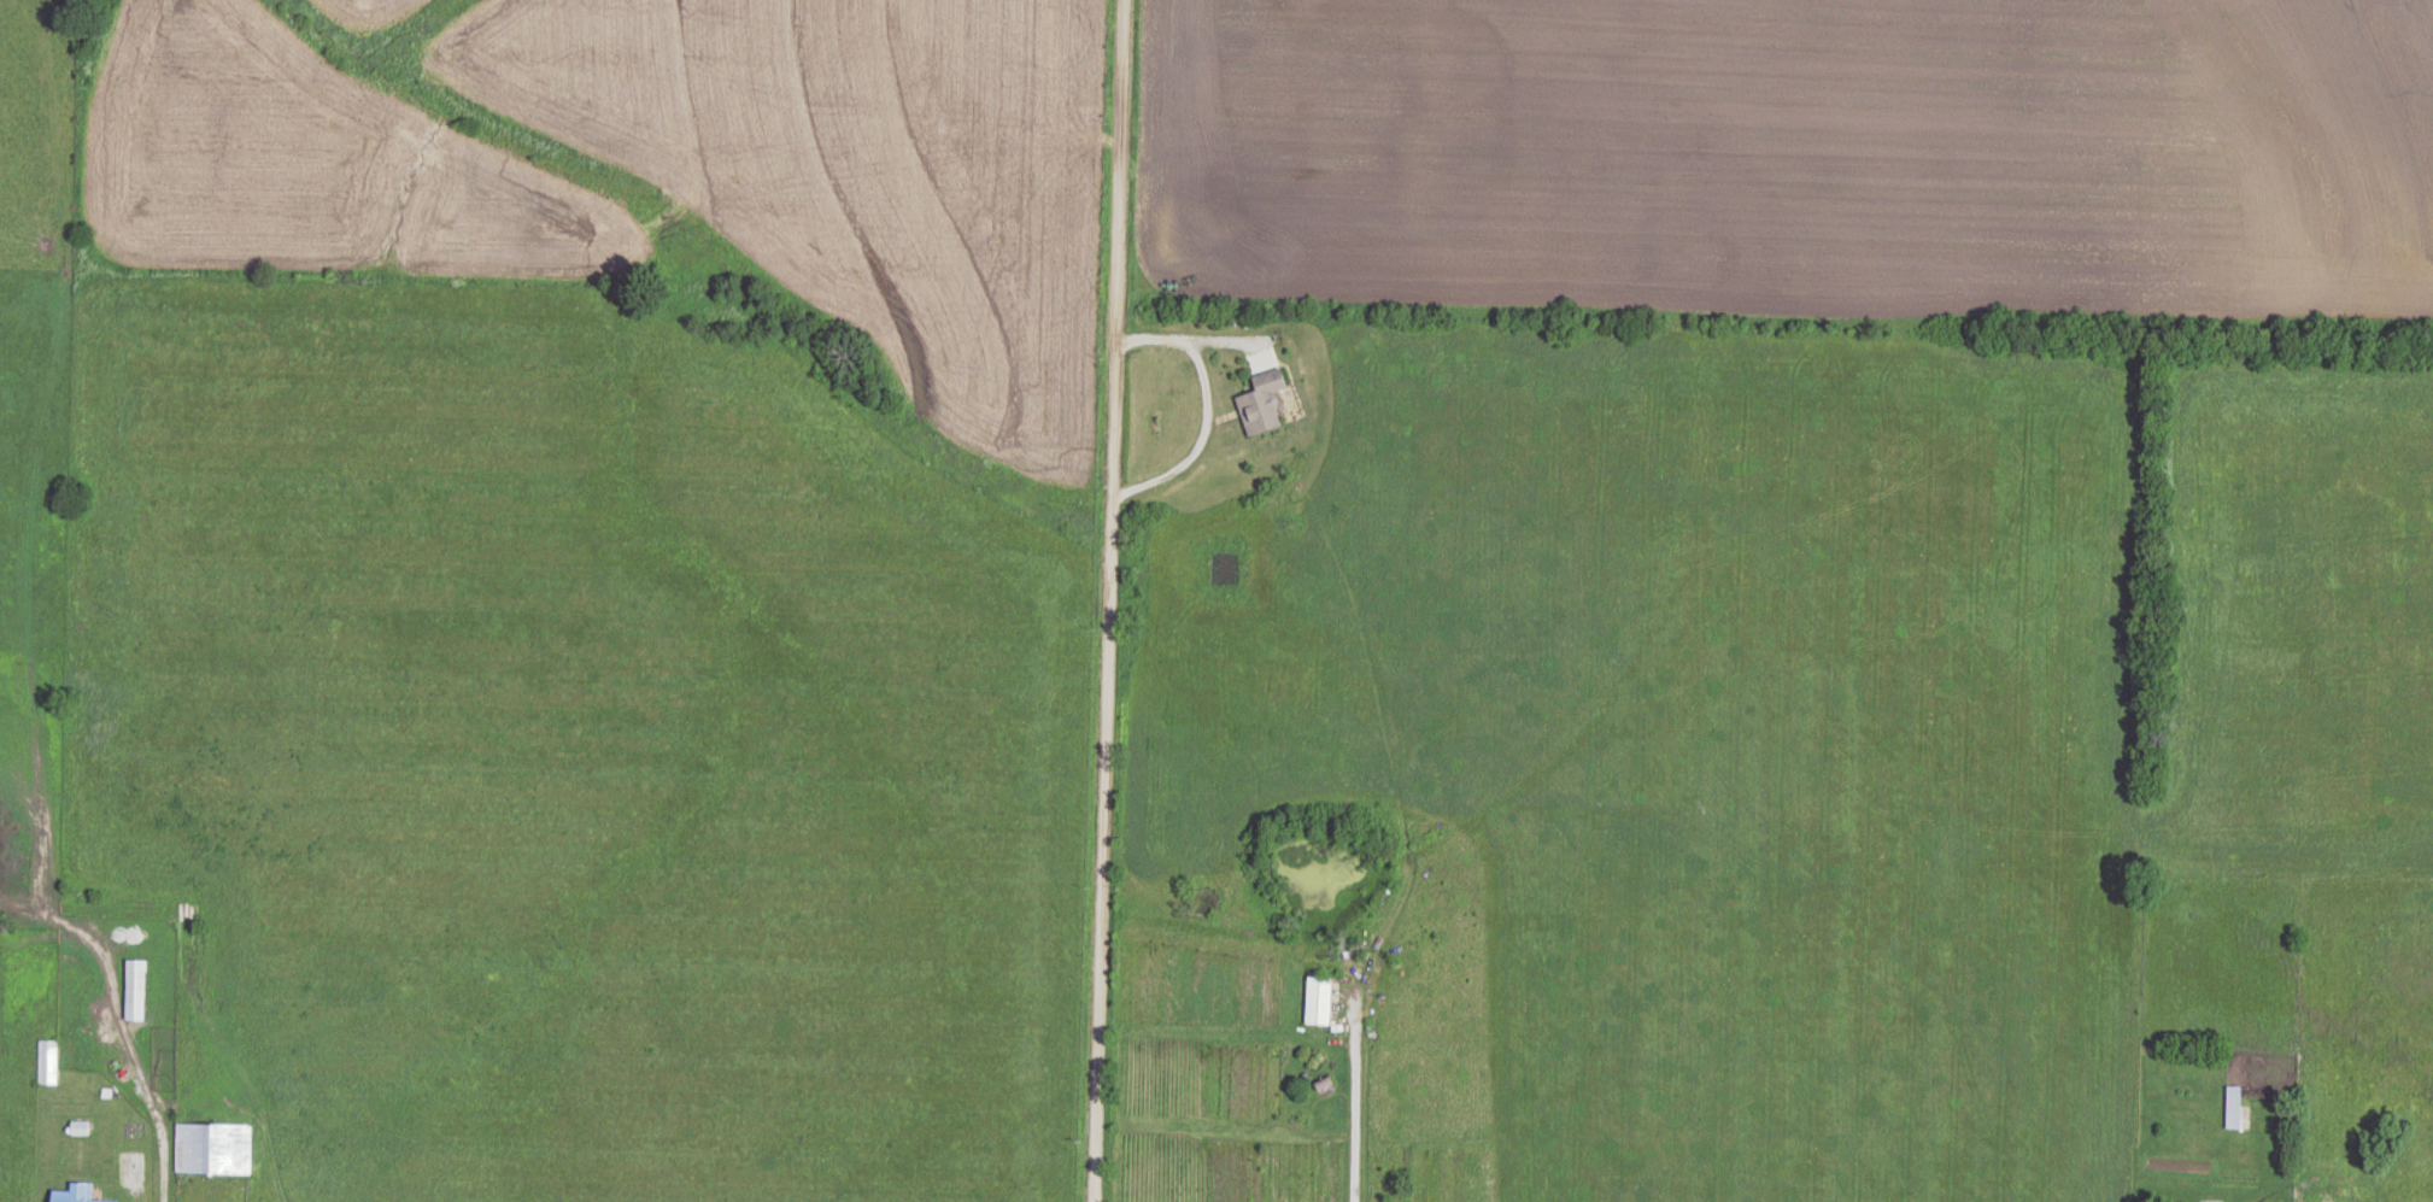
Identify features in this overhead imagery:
crop: (1796, 156)
crop: (662, 174)
building: (1262, 403)
road: (1096, 600)
building: (135, 990)
building: (1319, 1001)
building: (48, 1062)
building: (2233, 1107)
building: (213, 1149)
building: (75, 1194)

